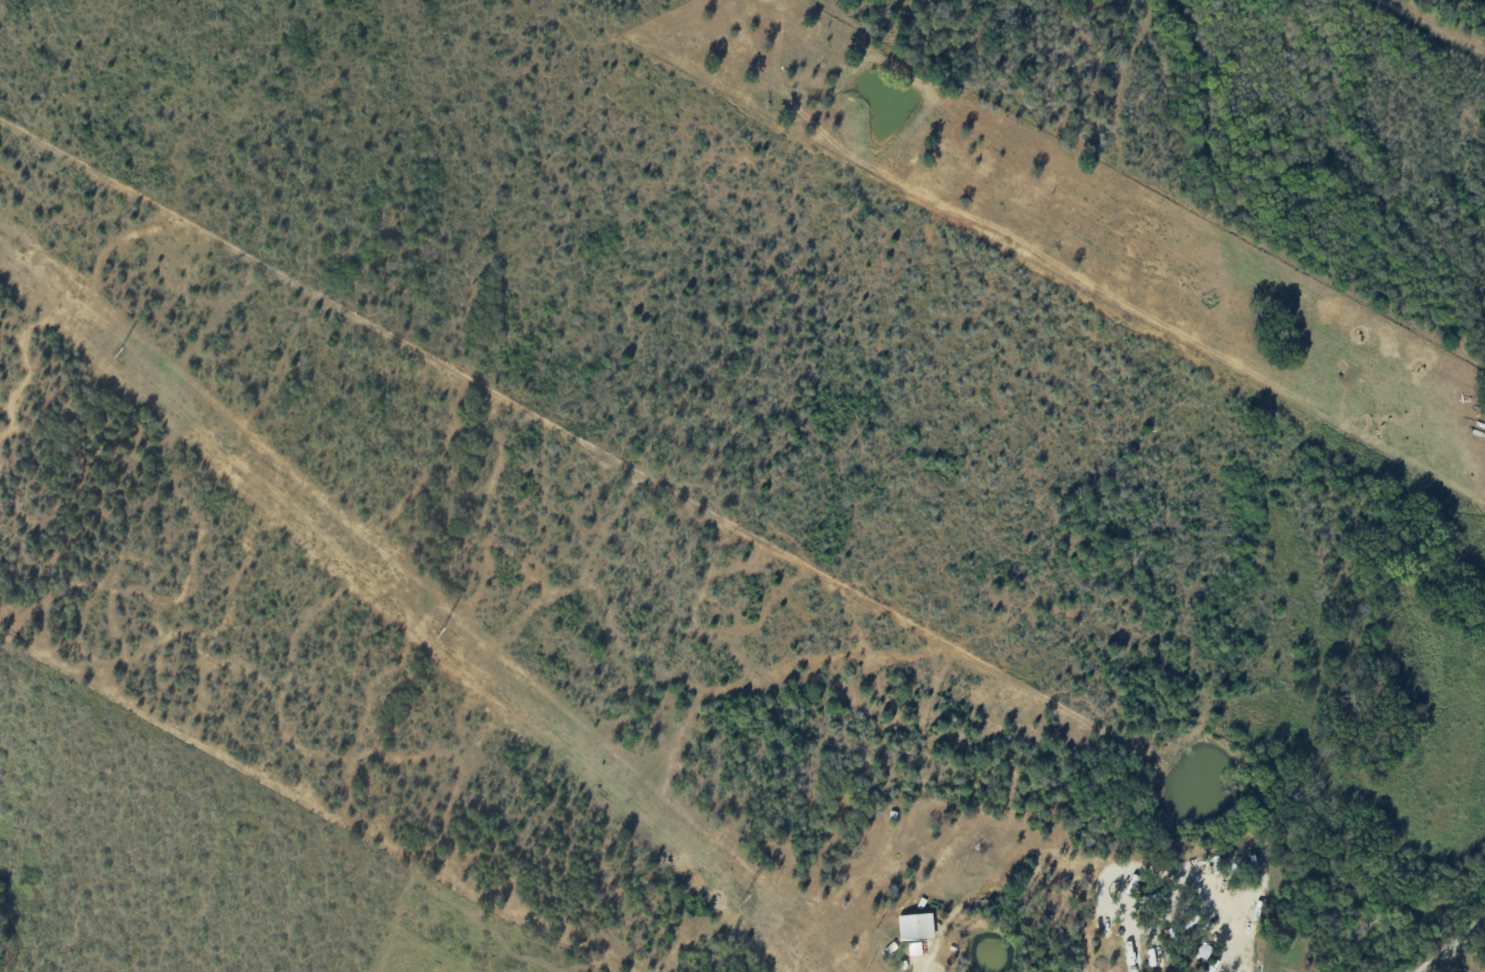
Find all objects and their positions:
power tower: (120, 351)
power tower: (442, 630)
road: (1173, 868)
building: (1132, 882)
power tower: (745, 896)
building: (916, 927)
building: (915, 949)
road: (1455, 949)
building: (1204, 951)
road: (1447, 965)

